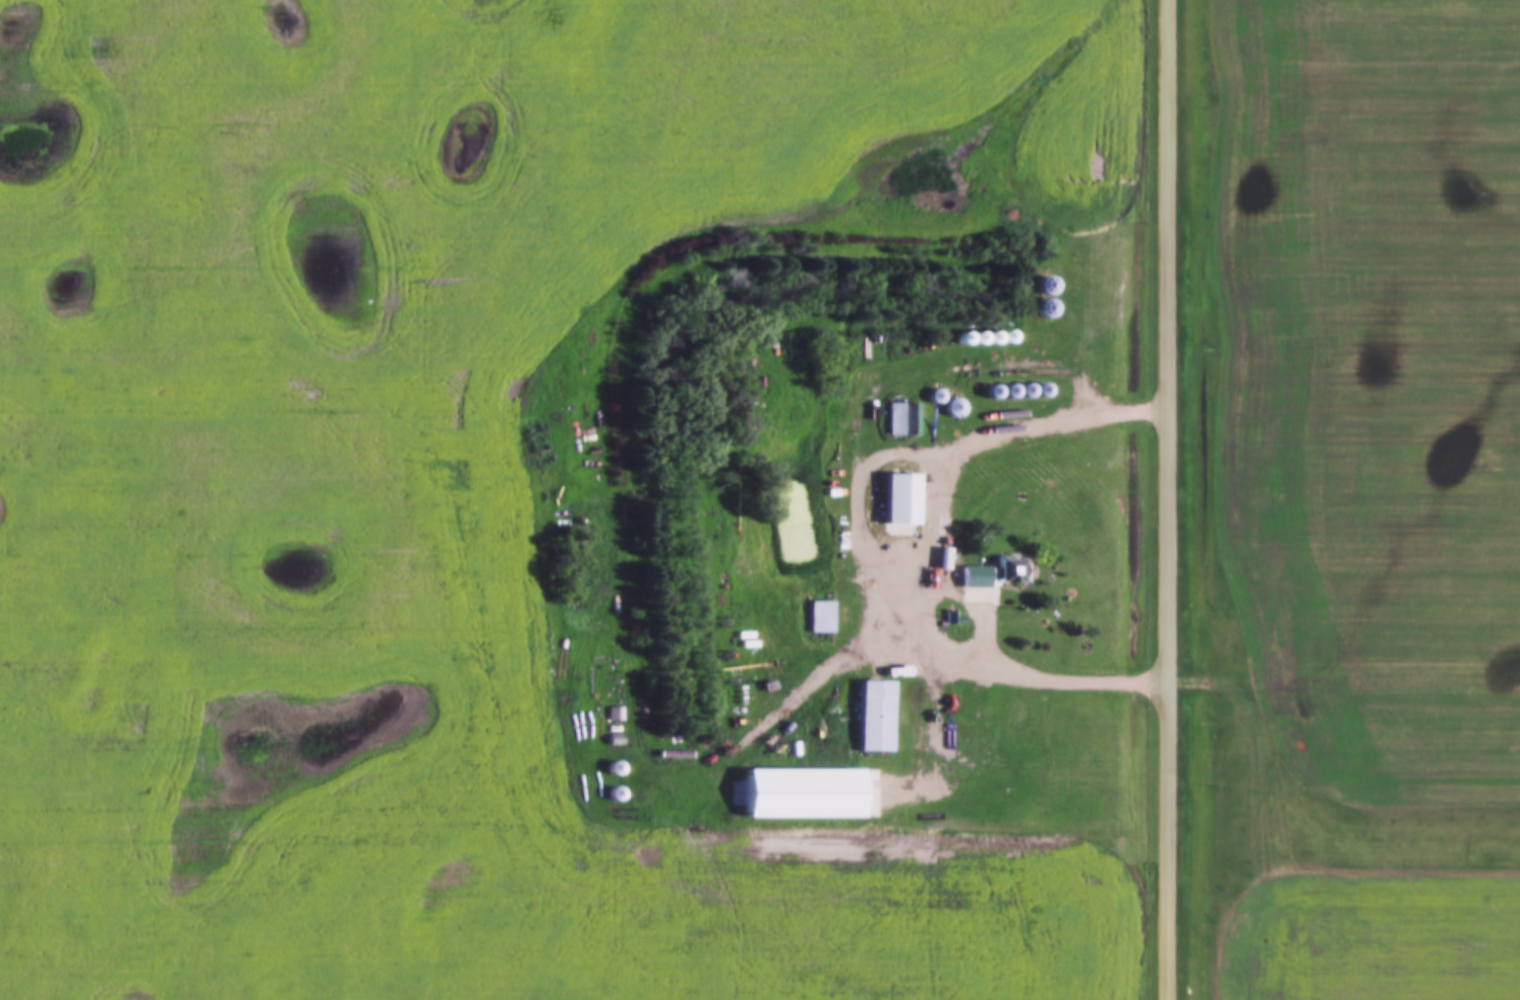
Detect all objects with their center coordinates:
building: (1042, 283)
building: (1009, 390)
building: (952, 406)
building: (900, 417)
building: (898, 496)
road: (1170, 500)
building: (1006, 568)
building: (972, 575)
building: (817, 615)
road: (918, 634)
building: (613, 712)
building: (872, 714)
building: (611, 767)
building: (799, 791)
building: (611, 793)
building: (992, 804)

